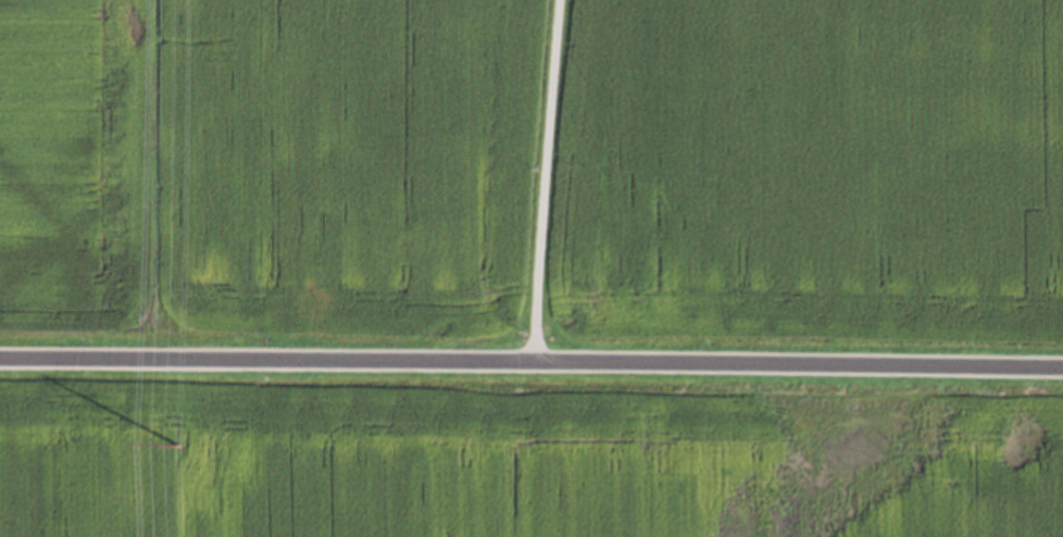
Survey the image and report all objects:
road: (531, 362)
power tower: (177, 445)

